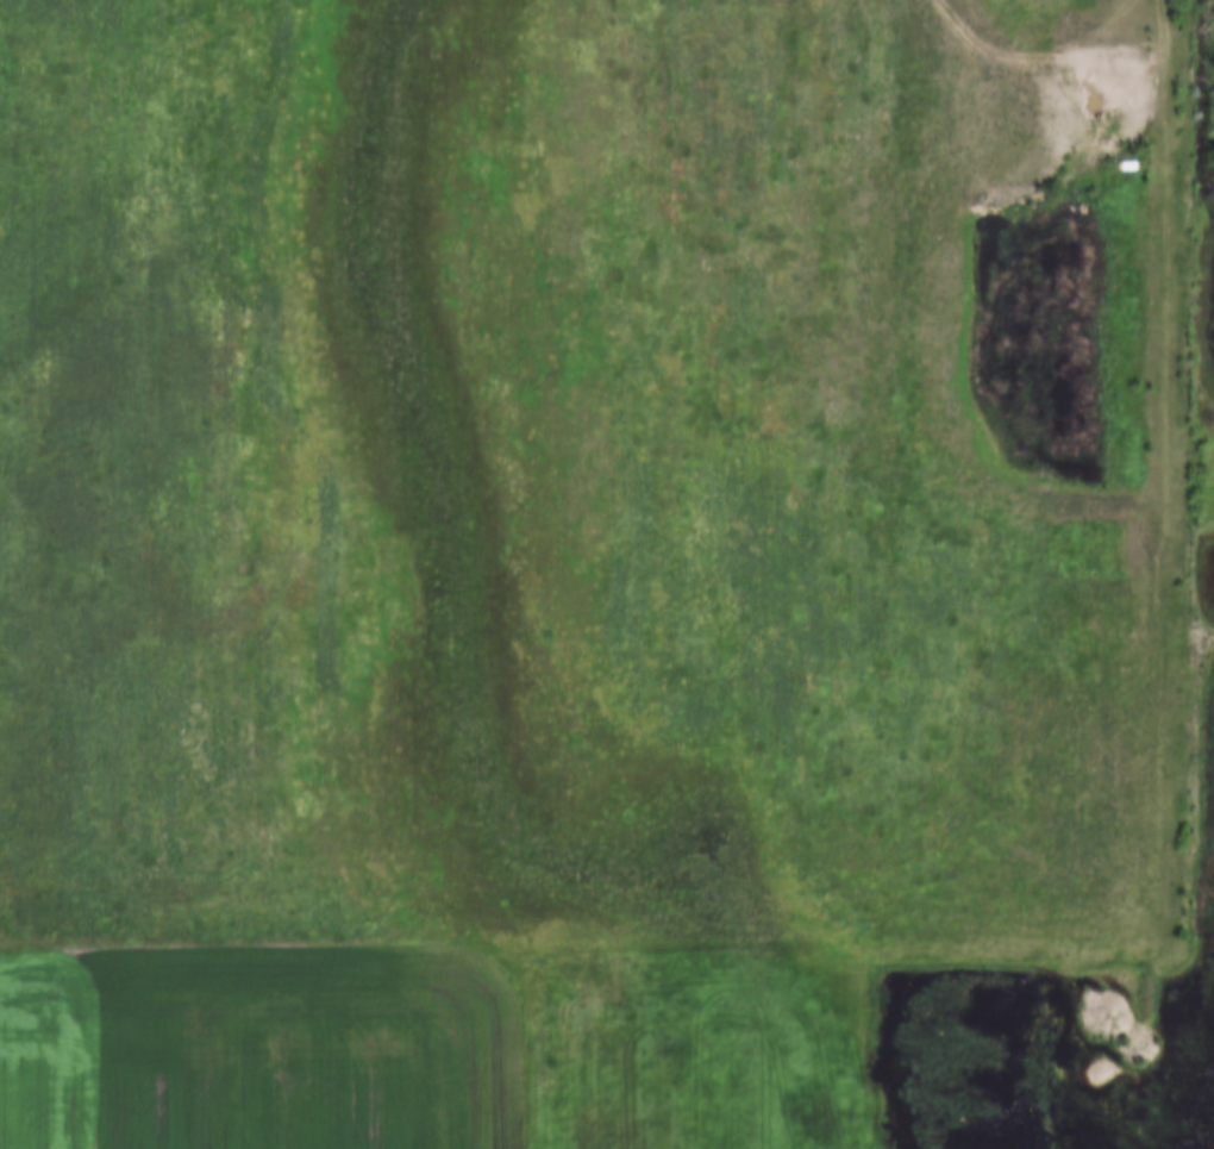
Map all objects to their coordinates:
quarry: (1193, 249)

